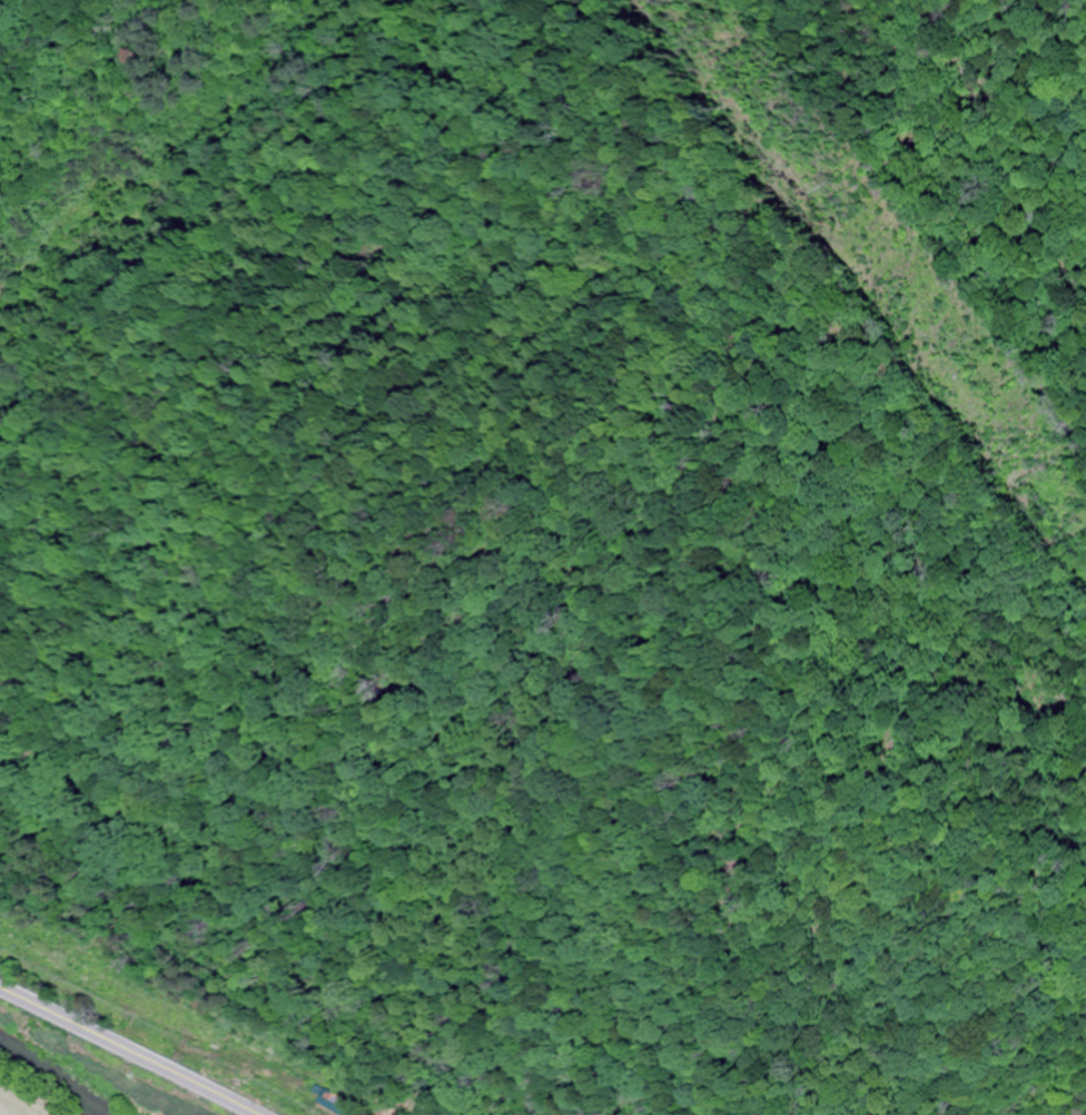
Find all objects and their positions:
road: (132, 1048)
river: (59, 1077)
building: (347, 1103)

